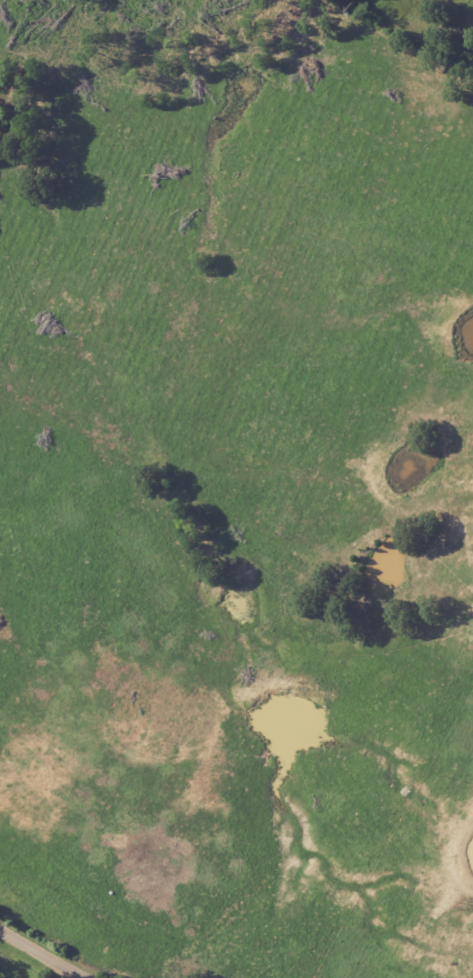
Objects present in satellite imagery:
road: (43, 954)

